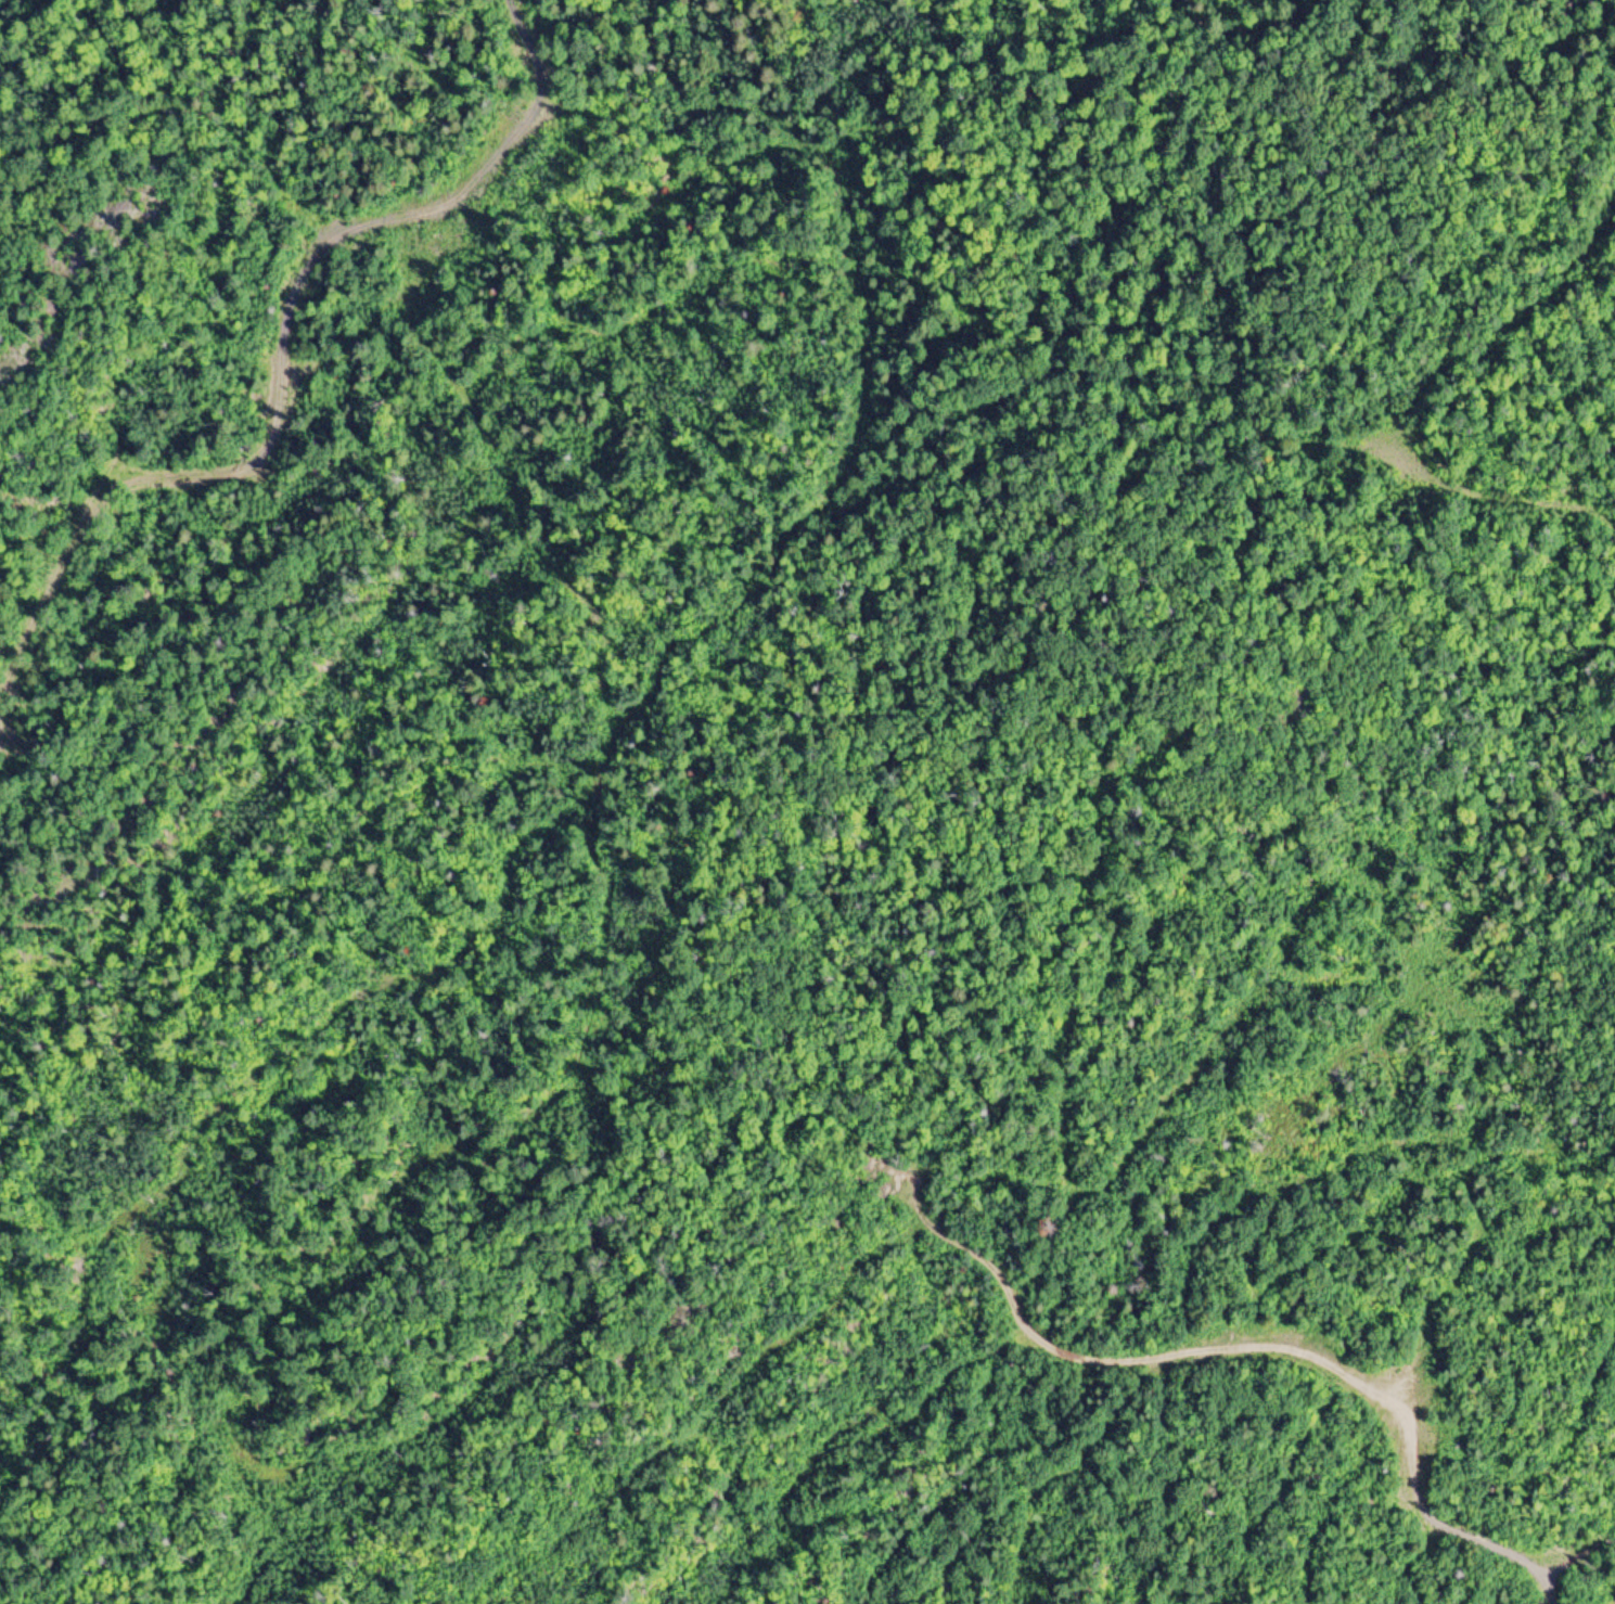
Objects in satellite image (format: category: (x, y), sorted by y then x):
road: (537, 95)
road: (1350, 1371)
road: (1549, 1581)

